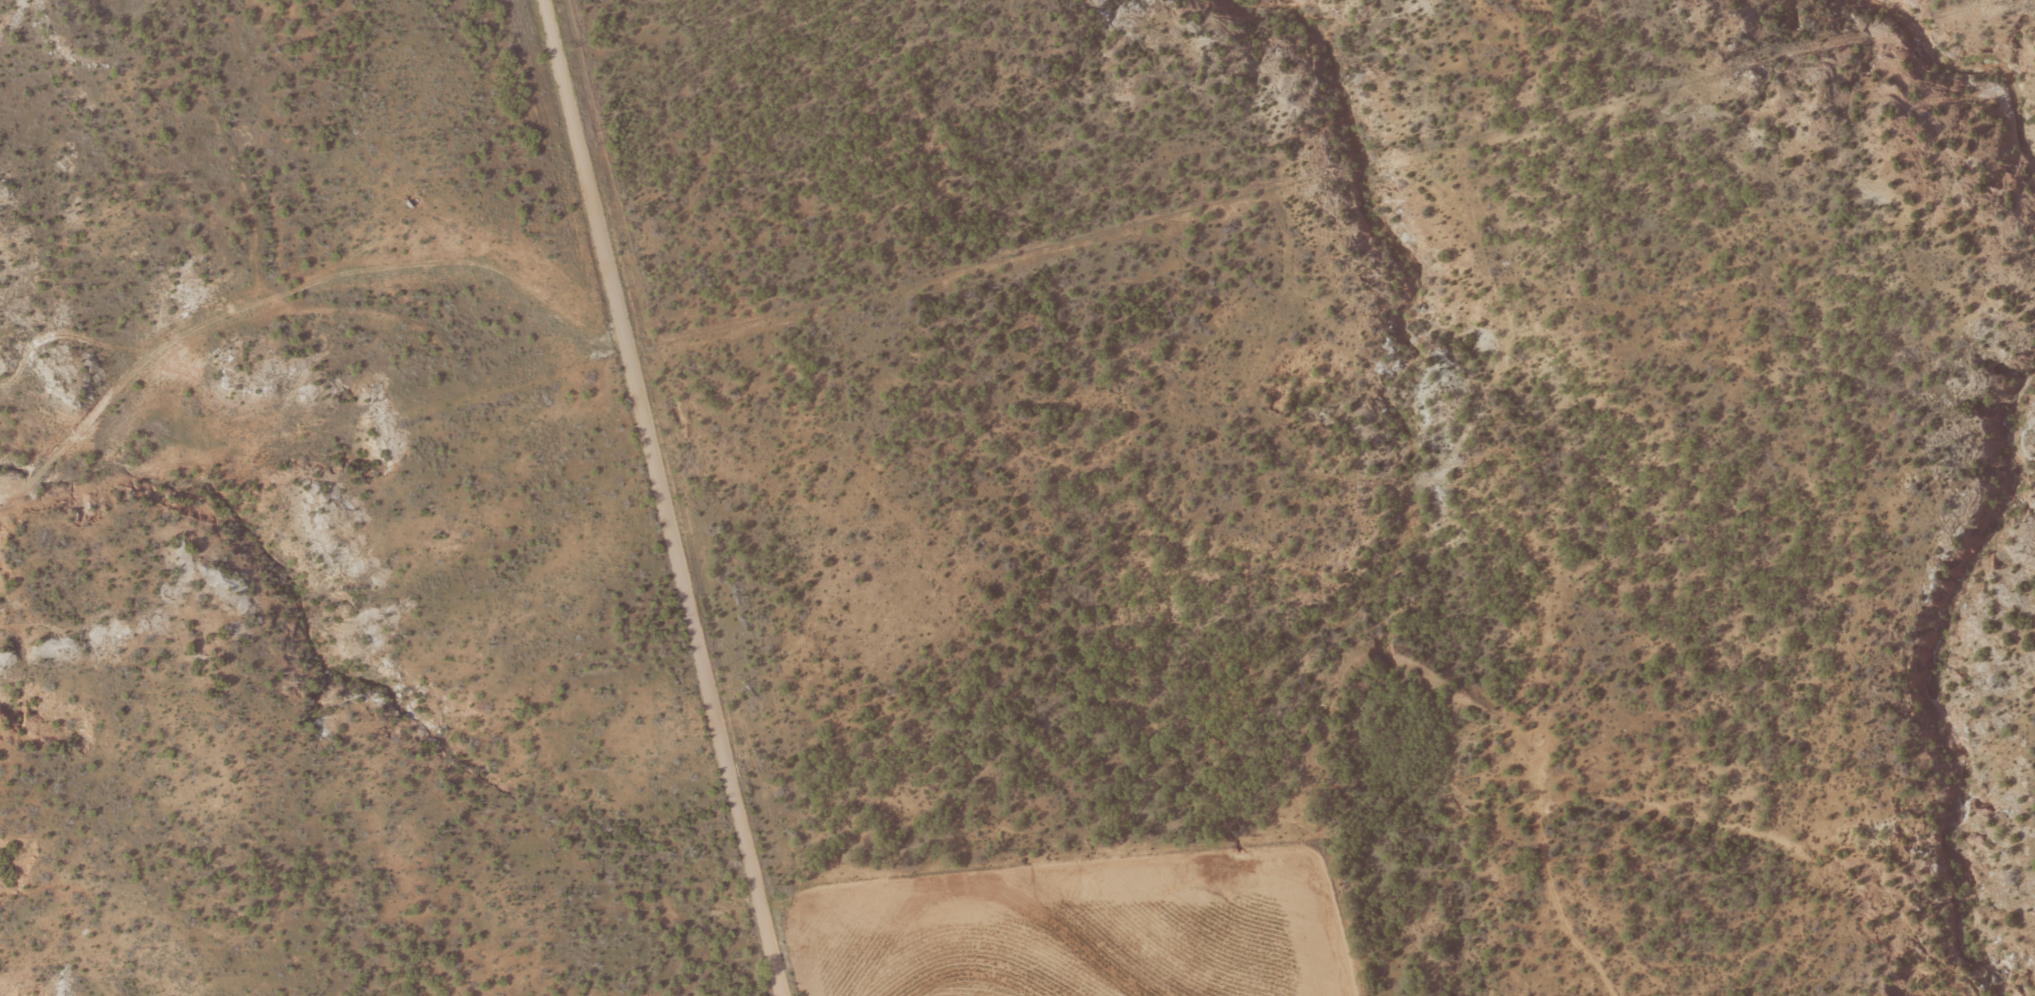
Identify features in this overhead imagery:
road: (641, 498)
road: (1567, 859)

